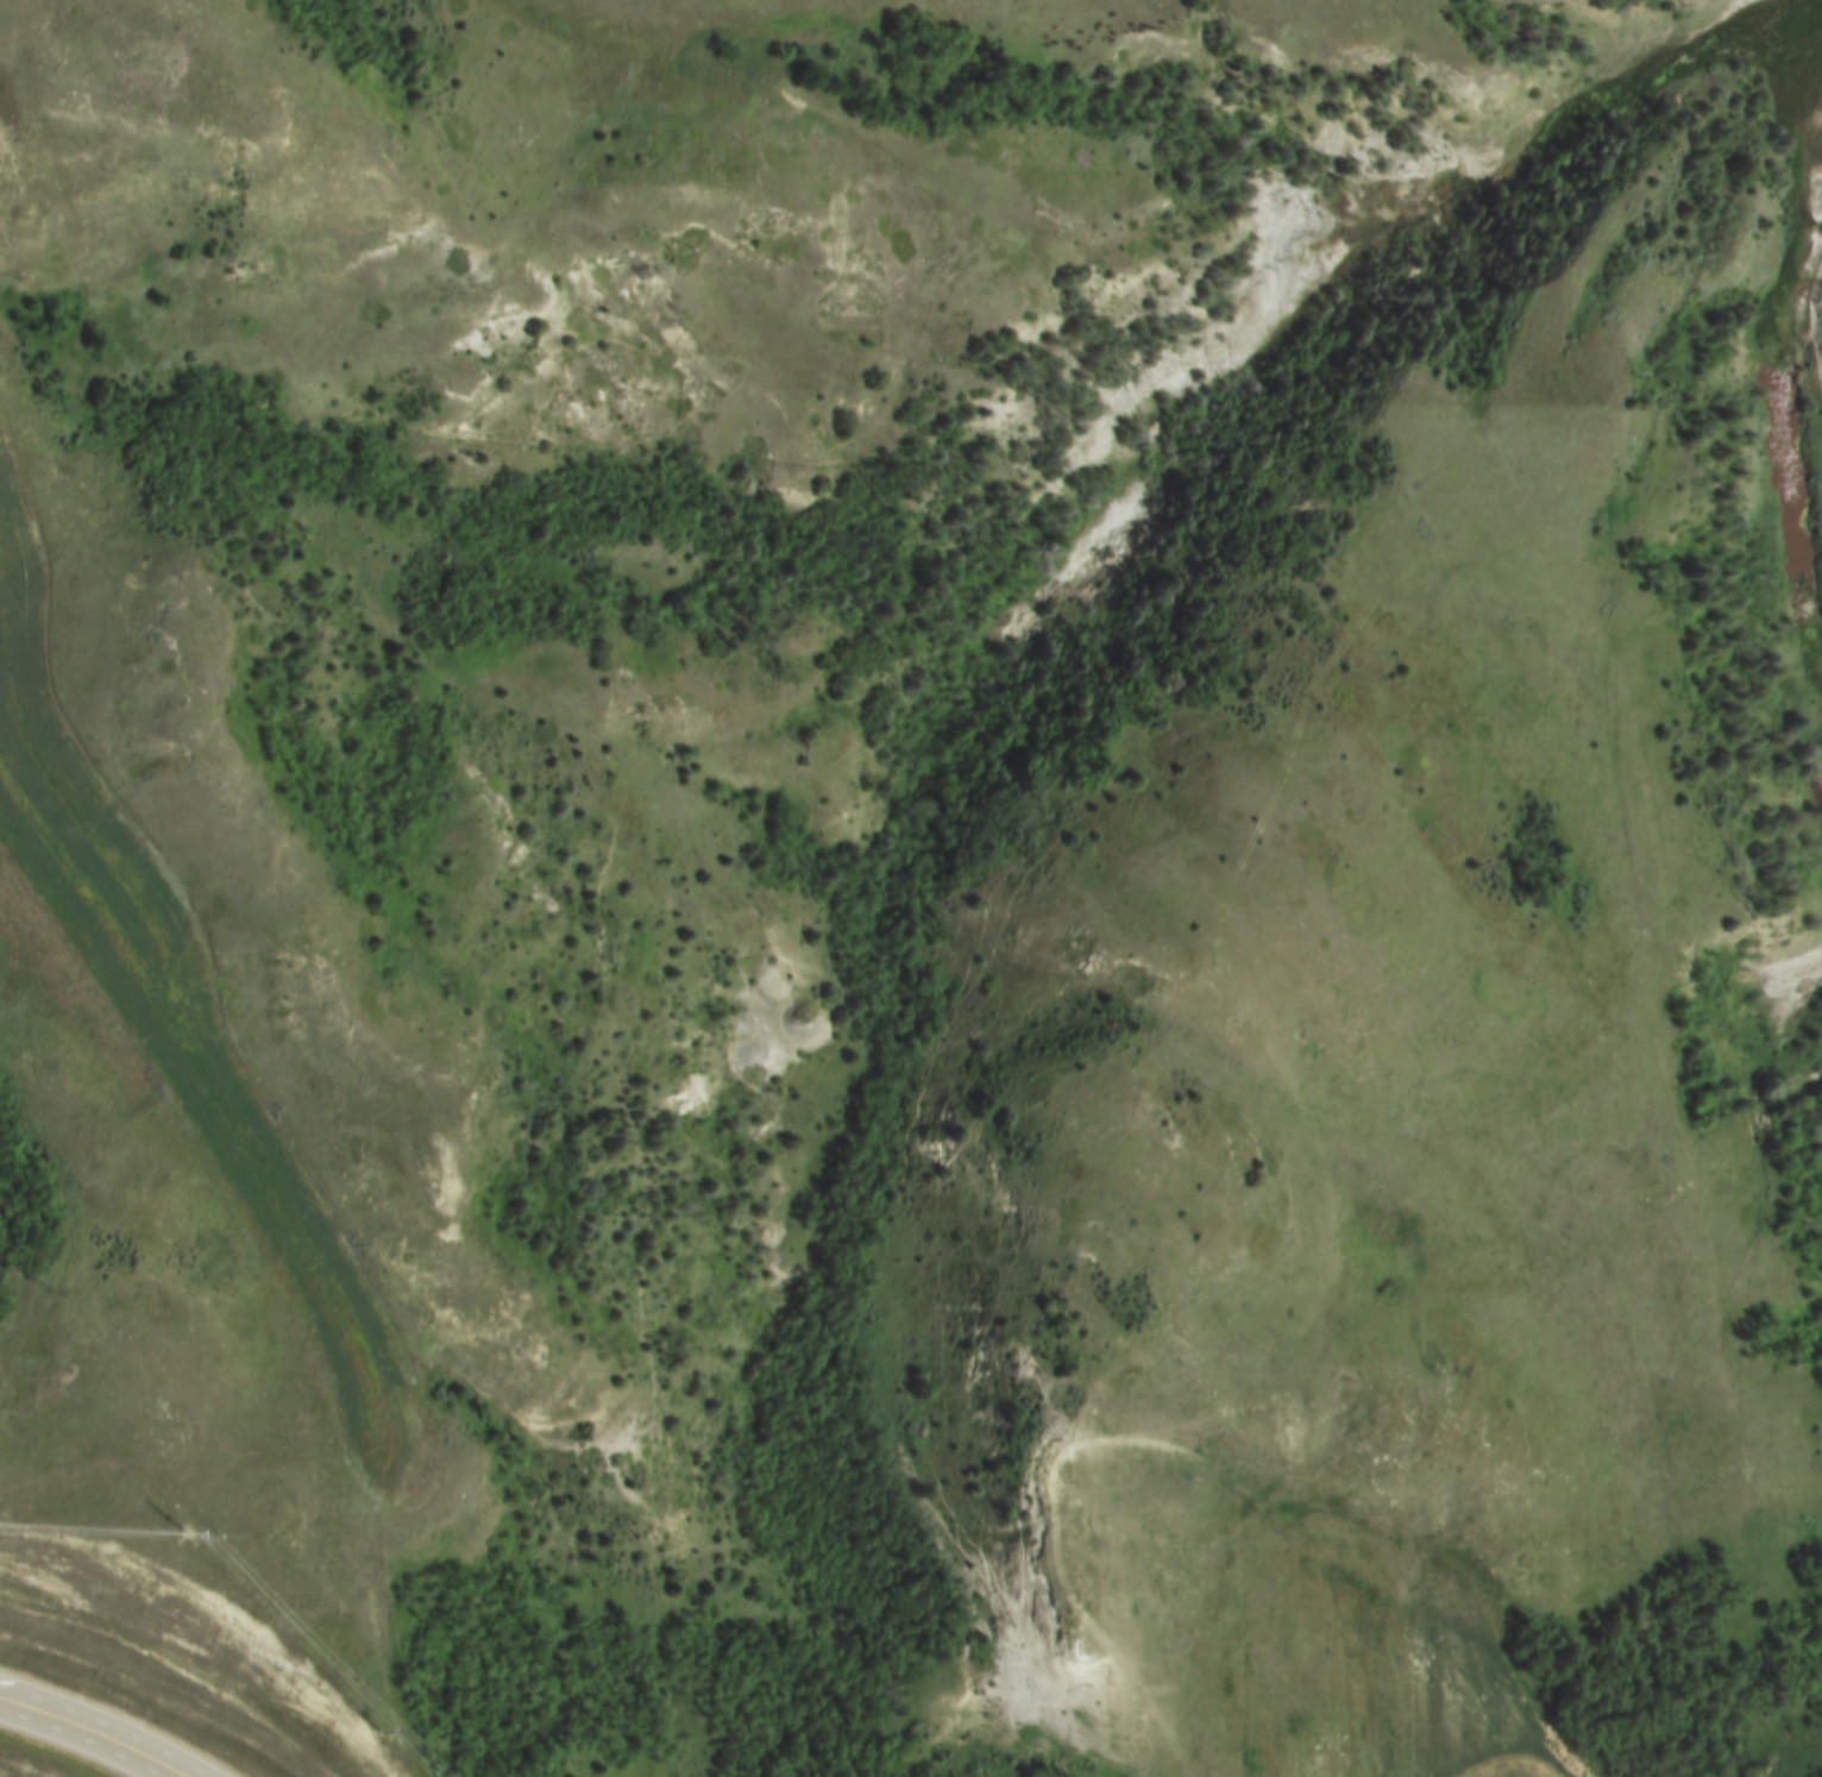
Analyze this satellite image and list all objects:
road: (98, 1728)

